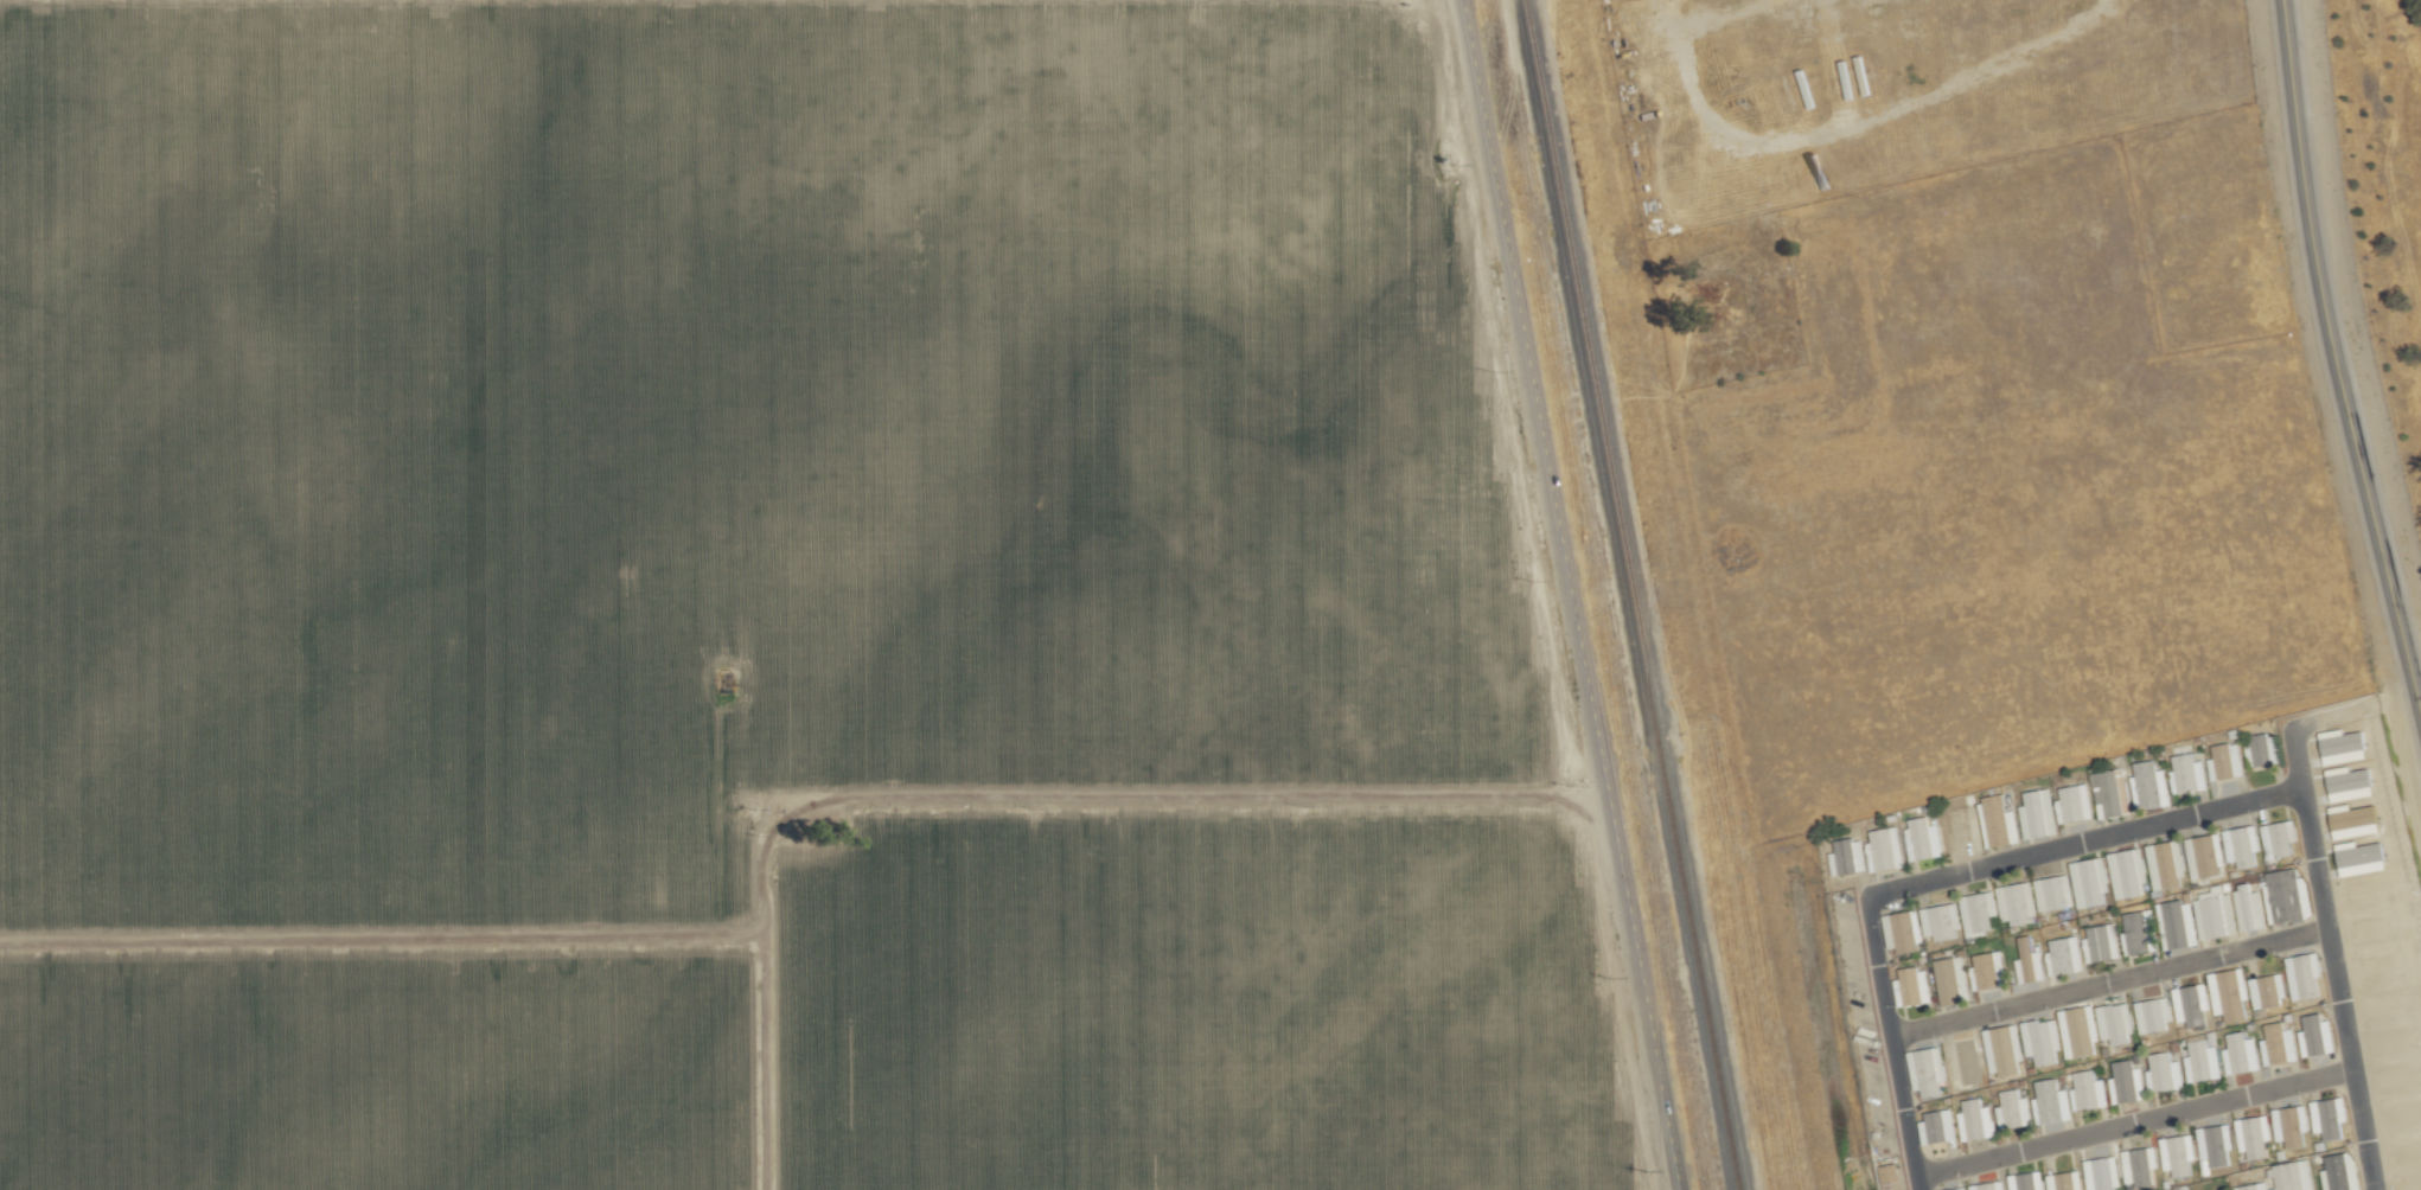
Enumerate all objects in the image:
road: (2333, 364)
road: (1569, 595)
railway: (1629, 595)
building: (2261, 756)
building: (2229, 761)
building: (2187, 774)
building: (2151, 786)
building: (2112, 793)
building: (2075, 804)
building: (1994, 805)
building: (2038, 813)
building: (1923, 838)
building: (2279, 838)
road: (2082, 842)
building: (2241, 845)
building: (1885, 850)
building: (2205, 855)
building: (1850, 857)
building: (2166, 864)
building: (2128, 872)
building: (2090, 882)
building: (2055, 892)
building: (2287, 895)
building: (2017, 902)
building: (2248, 907)
building: (1979, 911)
building: (2215, 915)
building: (1941, 921)
building: (2179, 923)
building: (2140, 930)
building: (1902, 932)
building: (2100, 934)
road: (2330, 952)
building: (2062, 957)
building: (2030, 960)
building: (1953, 967)
building: (1987, 967)
building: (2304, 974)
road: (2109, 981)
building: (1912, 987)
building: (2266, 989)
building: (2228, 993)
building: (2190, 1004)
building: (2152, 1015)
building: (2114, 1023)
building: (2080, 1031)
building: (2315, 1036)
building: (2042, 1041)
road: (1893, 1043)
building: (2278, 1044)
building: (2004, 1049)
building: (2240, 1053)
building: (2200, 1061)
building: (1928, 1070)
building: (2163, 1073)
building: (2126, 1082)
building: (2087, 1090)
building: (2051, 1102)
building: (2013, 1109)
building: (2330, 1117)
building: (1975, 1120)
road: (2133, 1121)
building: (2292, 1125)
building: (1938, 1127)
building: (2253, 1135)
building: (2216, 1144)
building: (2179, 1156)
building: (2139, 1165)
building: (2339, 1171)
building: (2102, 1173)
building: (1891, 1176)
building: (2065, 1181)
building: (2253, 1186)
building: (1960, 1189)

